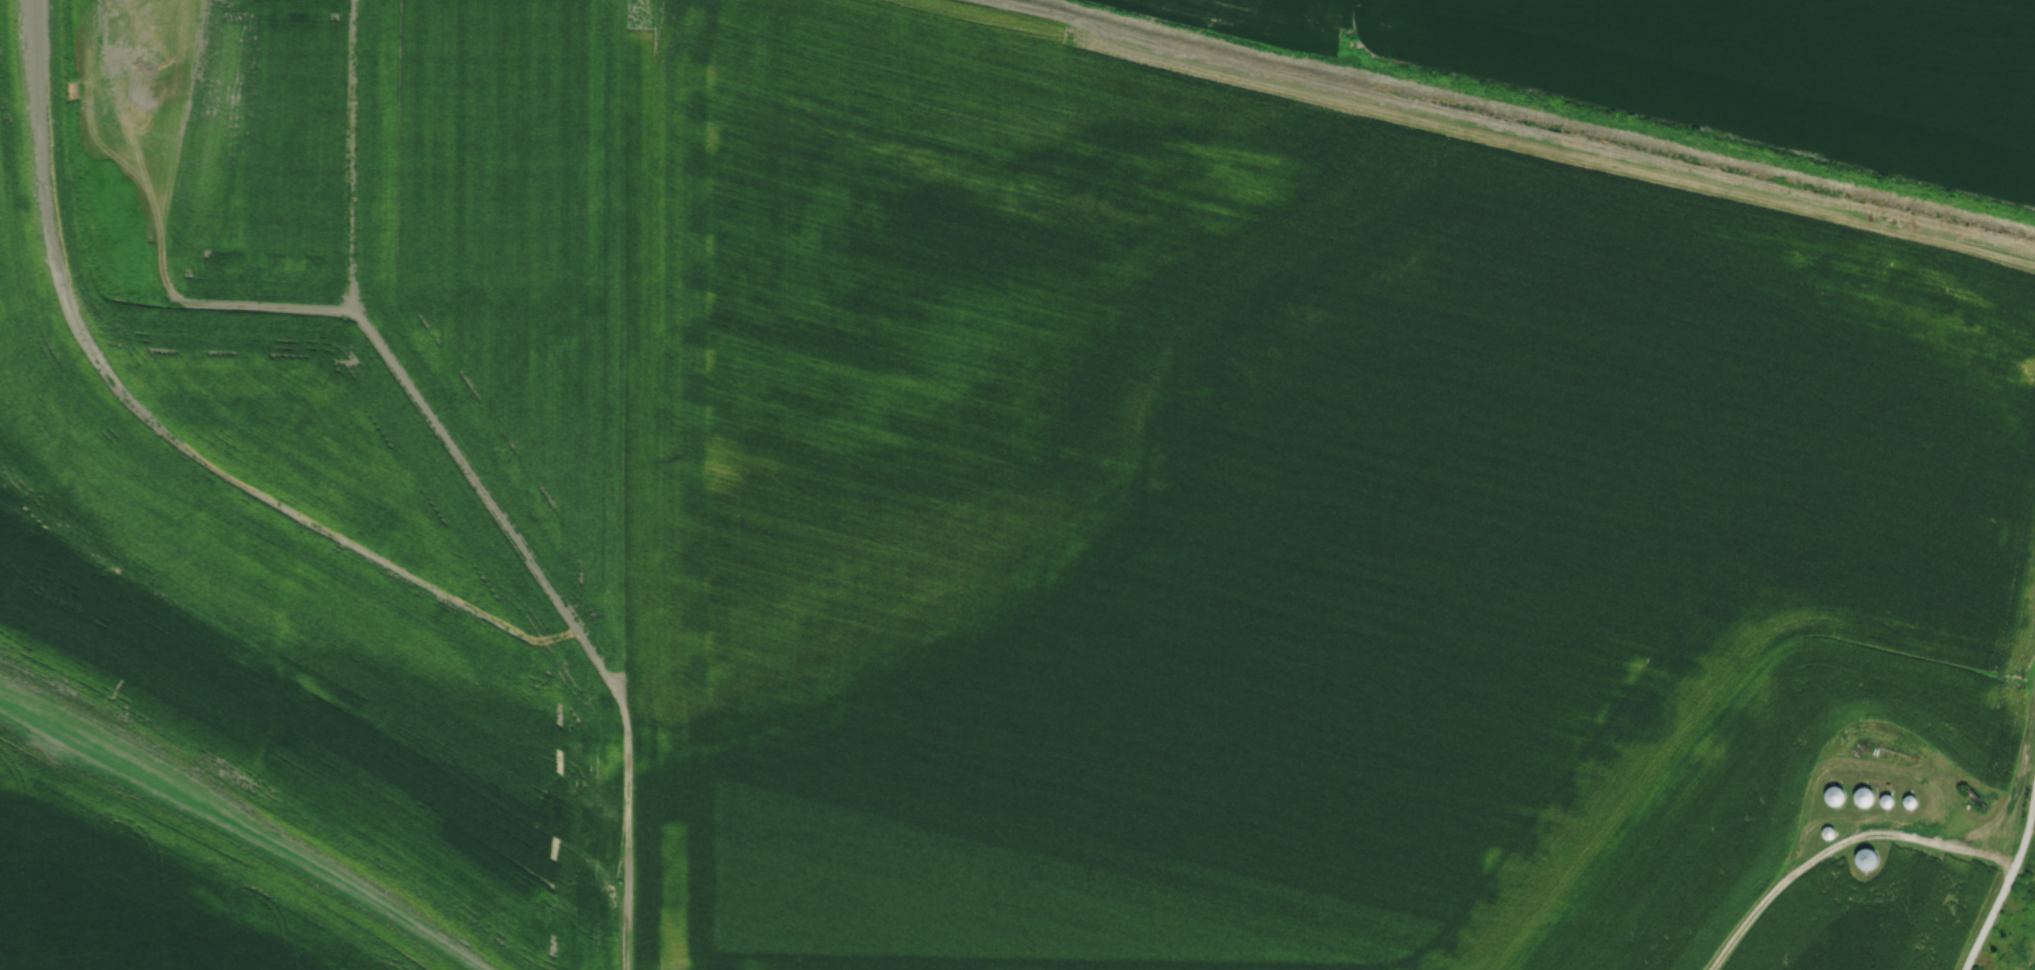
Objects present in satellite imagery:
building: (1833, 796)
building: (1863, 796)
road: (1904, 843)
building: (1865, 859)
road: (1998, 866)
road: (1986, 919)

